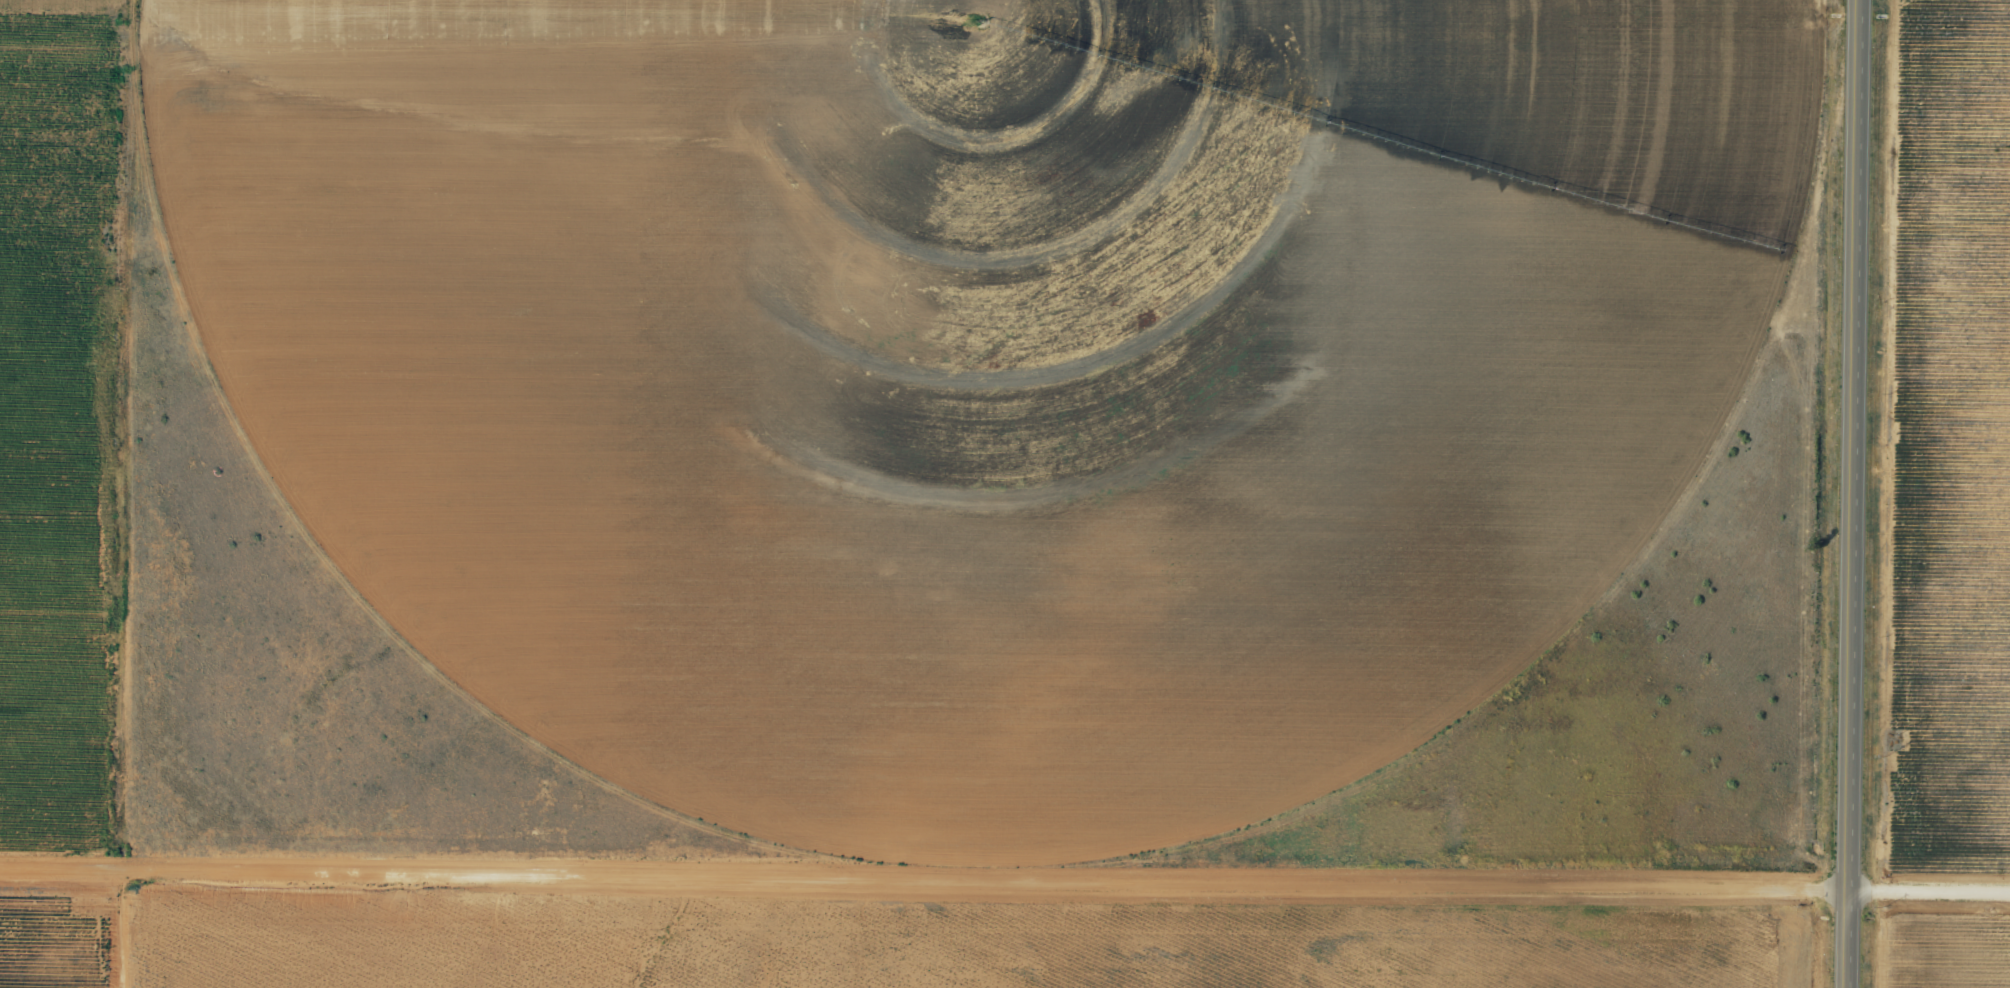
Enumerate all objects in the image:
road: (1865, 493)
road: (159, 494)
road: (930, 881)
road: (1935, 898)

